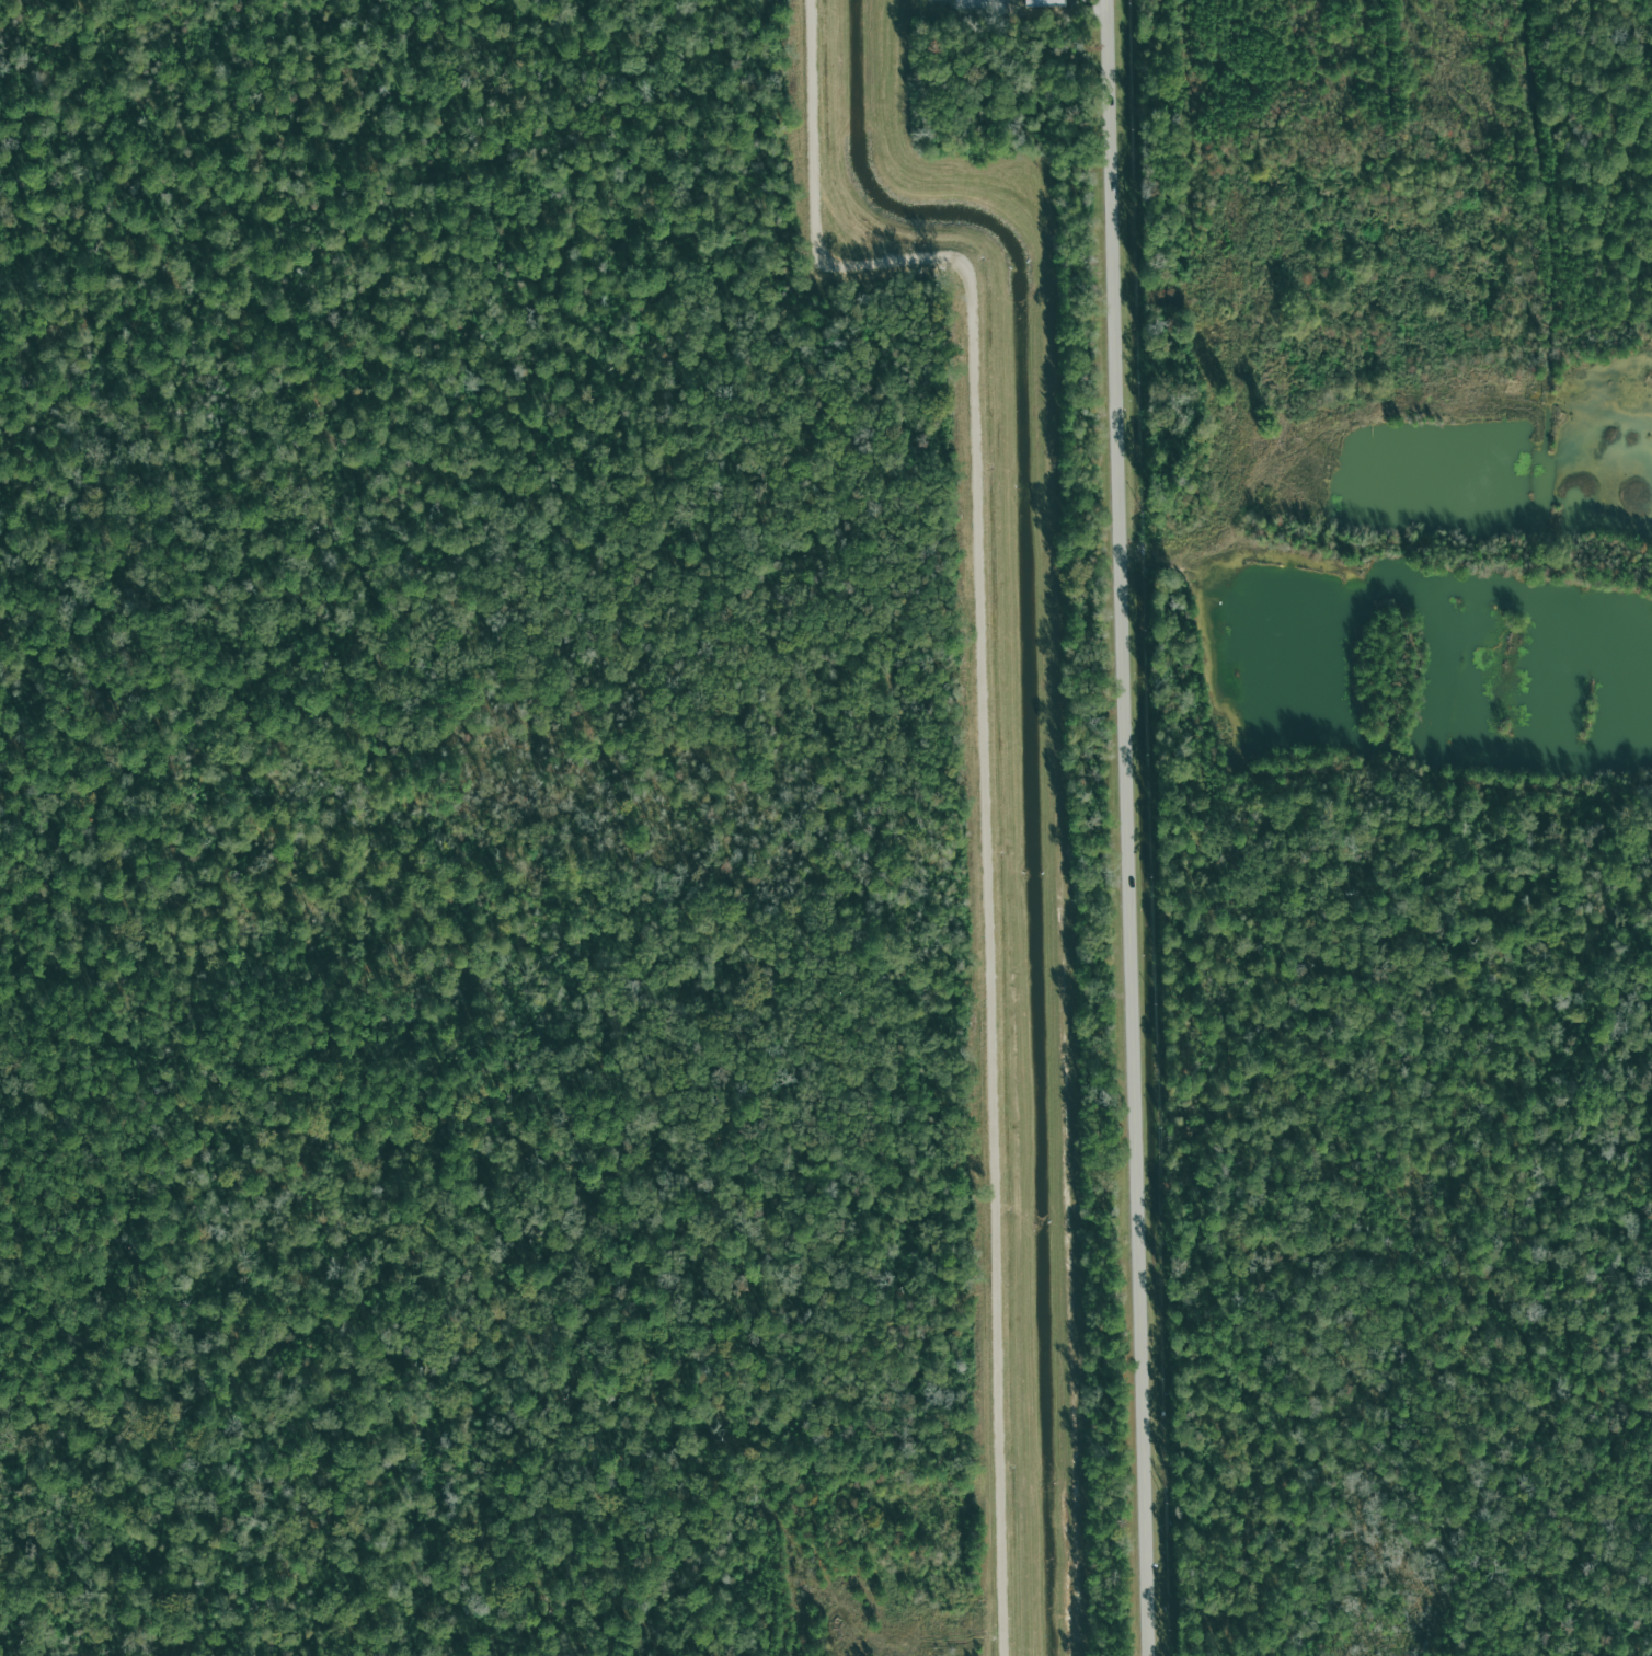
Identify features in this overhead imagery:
building: (1035, 3)
road: (988, 757)
road: (1126, 828)

